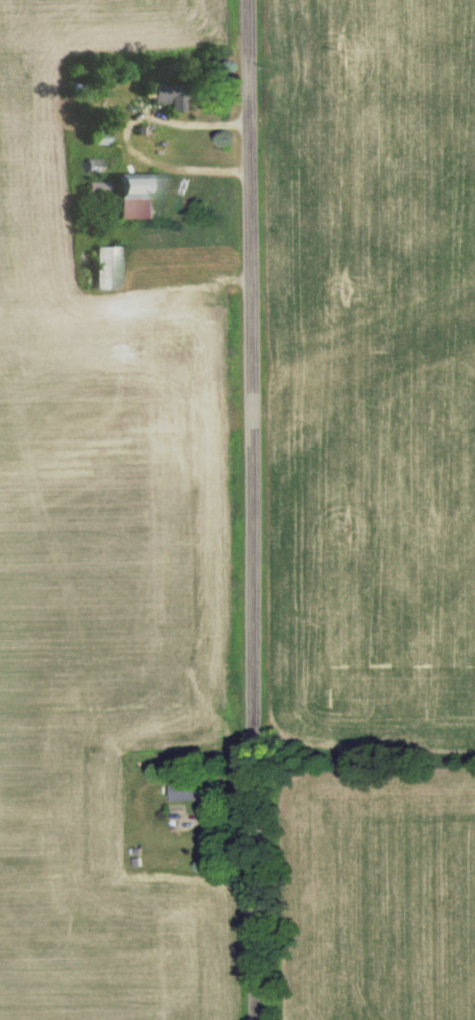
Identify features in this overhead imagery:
building: (166, 99)
building: (140, 200)
building: (105, 271)
road: (251, 510)
building: (194, 793)

